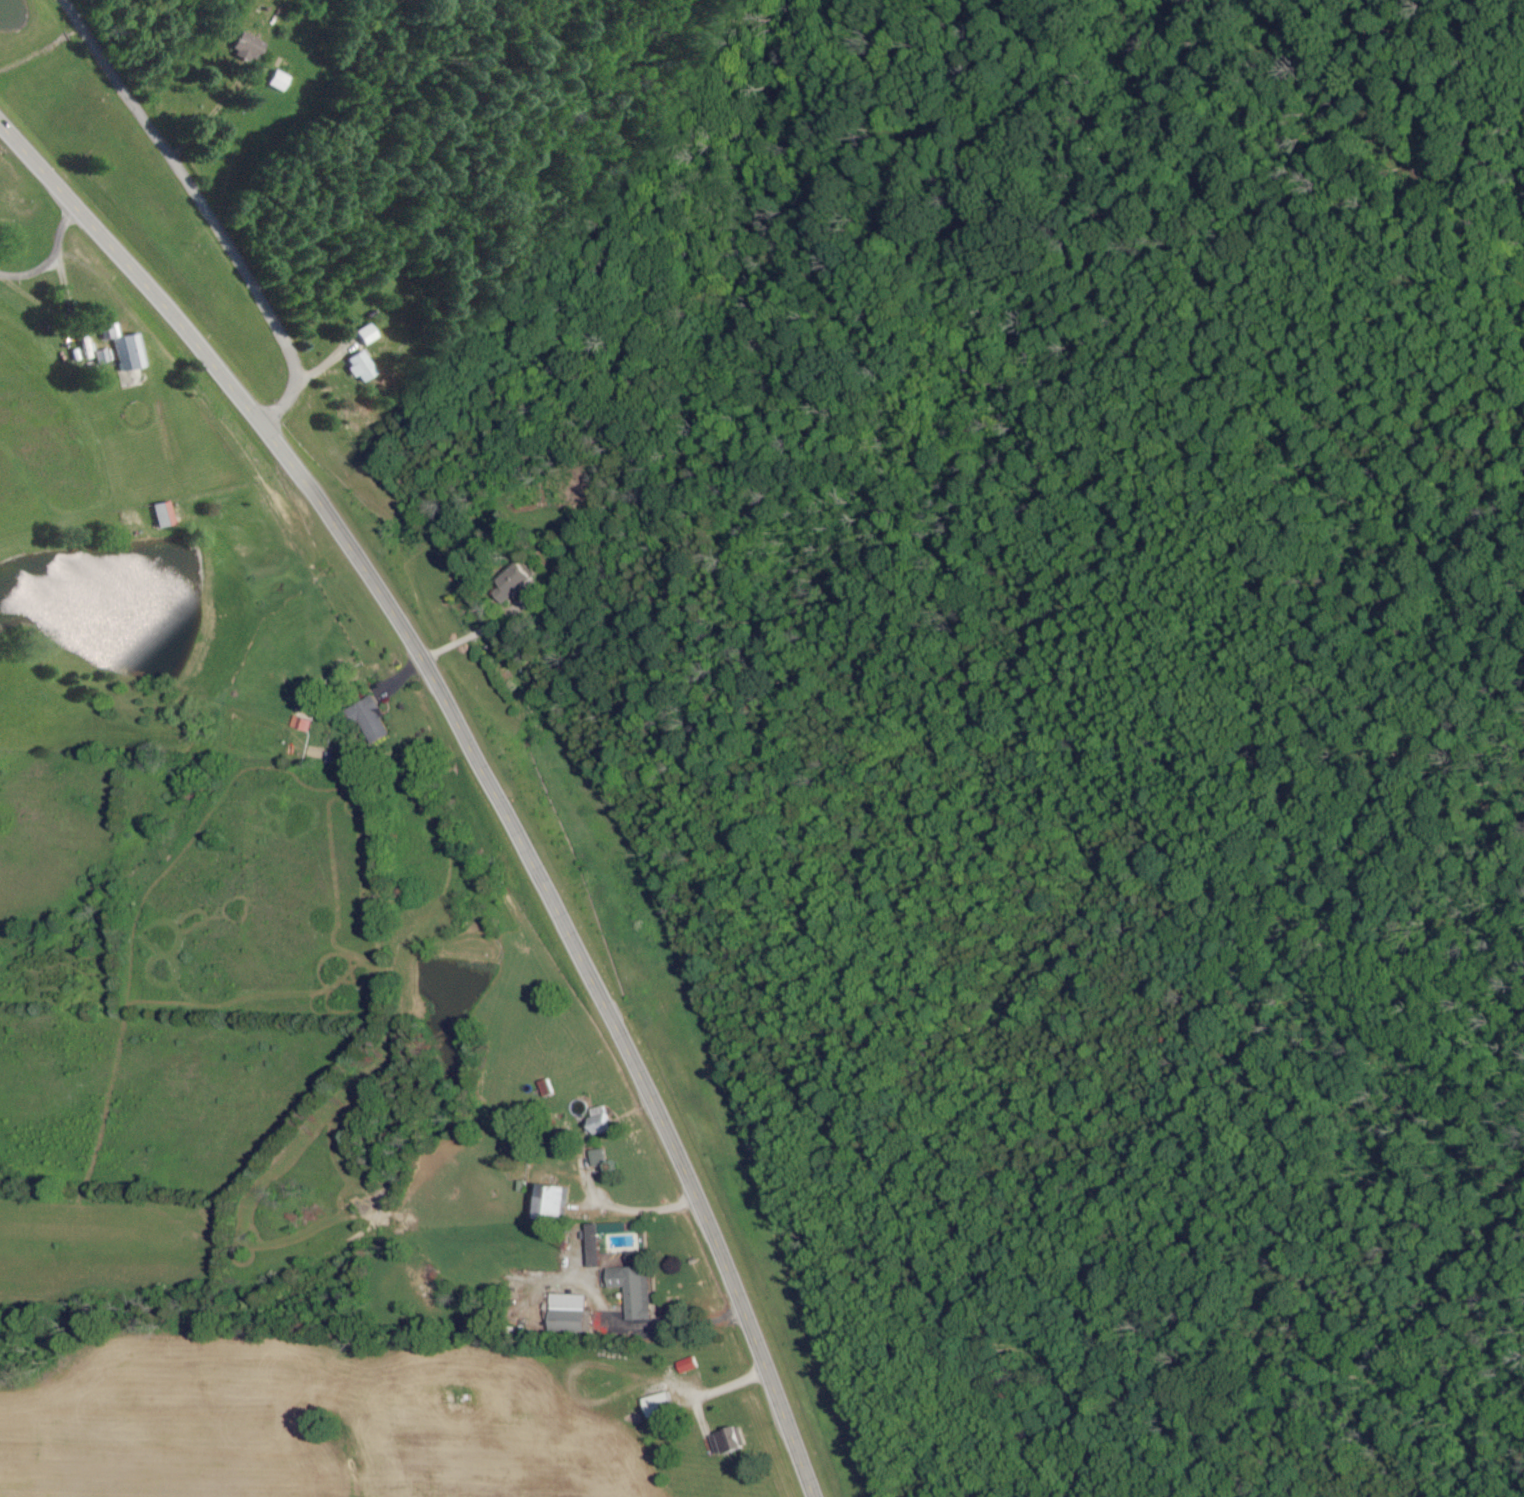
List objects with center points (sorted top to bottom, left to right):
building: (251, 46)
building: (282, 81)
road: (204, 207)
road: (50, 259)
building: (368, 333)
building: (127, 346)
building: (363, 366)
building: (167, 513)
building: (518, 579)
road: (476, 632)
building: (376, 720)
building: (304, 722)
road: (480, 766)
building: (603, 1121)
building: (561, 1201)
road: (626, 1208)
building: (598, 1245)
building: (636, 1290)
building: (572, 1312)
building: (685, 1365)

